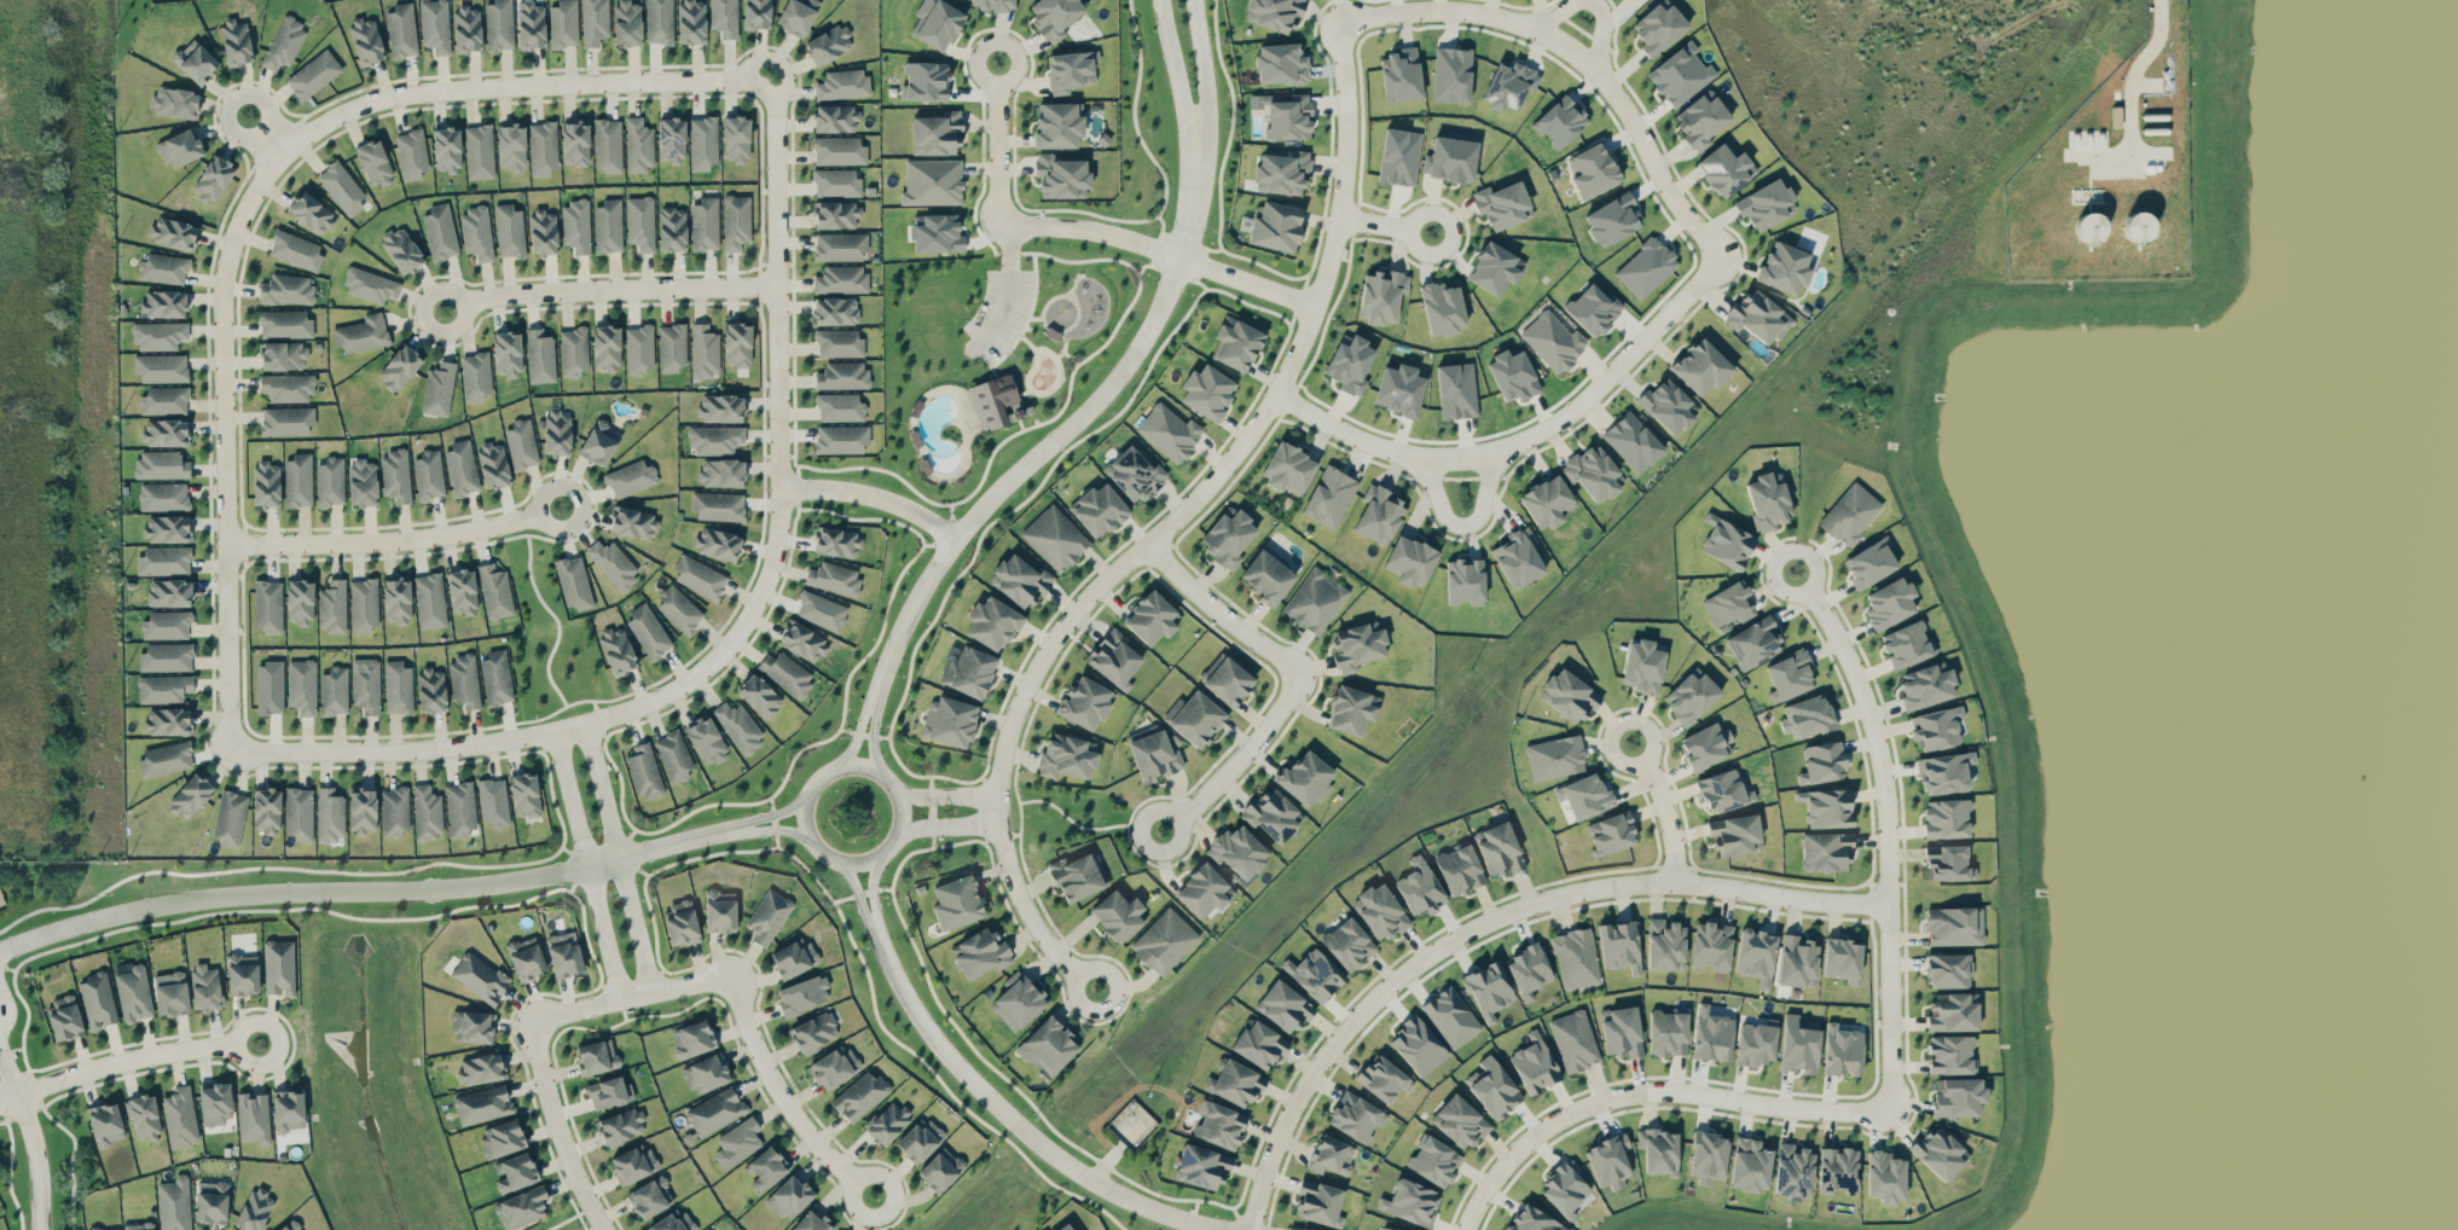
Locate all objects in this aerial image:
road: (1594, 2)
building: (995, 5)
building: (756, 13)
building: (1274, 13)
building: (798, 14)
building: (1054, 16)
building: (724, 17)
building: (659, 21)
building: (691, 21)
building: (593, 22)
building: (627, 22)
building: (563, 23)
building: (937, 23)
building: (499, 24)
building: (531, 24)
building: (435, 25)
building: (1658, 27)
building: (466, 28)
building: (401, 30)
building: (366, 39)
building: (236, 41)
building: (284, 42)
building: (828, 43)
road: (1578, 56)
building: (195, 62)
building: (1281, 63)
road: (1204, 64)
road: (1175, 65)
building: (1071, 70)
building: (313, 74)
building: (1451, 74)
building: (1680, 74)
building: (1399, 75)
building: (926, 80)
building: (842, 83)
building: (1508, 85)
road: (521, 86)
building: (175, 101)
building: (2115, 116)
building: (835, 117)
building: (1289, 117)
building: (1702, 118)
building: (1560, 122)
building: (1057, 124)
building: (937, 133)
road: (266, 134)
building: (671, 139)
building: (736, 139)
building: (575, 141)
building: (703, 141)
building: (608, 144)
building: (638, 144)
building: (511, 145)
building: (180, 147)
building: (543, 147)
building: (446, 149)
building: (839, 150)
building: (479, 151)
building: (411, 153)
building: (1398, 156)
building: (1453, 156)
building: (373, 163)
building: (1726, 168)
building: (1593, 169)
building: (1282, 172)
building: (1061, 176)
building: (213, 178)
building: (932, 181)
building: (836, 182)
building: (342, 186)
building: (1766, 203)
building: (1503, 204)
building: (311, 213)
building: (836, 214)
building: (1612, 219)
building: (735, 220)
building: (640, 222)
building: (705, 224)
building: (575, 225)
road: (1386, 225)
building: (608, 226)
building: (1276, 226)
building: (2138, 226)
building: (2089, 227)
building: (672, 228)
road: (1082, 230)
building: (440, 231)
building: (509, 231)
building: (543, 231)
building: (173, 232)
building: (476, 232)
building: (937, 233)
building: (840, 246)
building: (295, 249)
building: (401, 249)
building: (1645, 267)
building: (1785, 267)
building: (162, 268)
building: (1495, 268)
building: (841, 279)
building: (370, 284)
building: (286, 289)
road: (609, 290)
road: (1008, 290)
building: (1381, 295)
building: (163, 303)
building: (1442, 308)
building: (1593, 308)
building: (835, 311)
building: (1758, 317)
building: (284, 324)
building: (361, 333)
building: (158, 335)
building: (1553, 341)
building: (839, 342)
building: (1236, 343)
building: (737, 344)
building: (607, 347)
building: (672, 347)
building: (639, 349)
building: (574, 350)
building: (705, 350)
building: (506, 353)
road: (777, 353)
building: (283, 355)
building: (540, 356)
building: (1350, 362)
building: (1702, 366)
building: (161, 367)
building: (399, 367)
building: (842, 375)
building: (1512, 375)
building: (475, 376)
building: (288, 387)
road: (224, 389)
building: (439, 389)
building: (1401, 389)
building: (1456, 390)
building: (1207, 391)
building: (164, 400)
building: (1669, 405)
building: (839, 406)
building: (719, 407)
building: (286, 419)
road: (1078, 420)
building: (164, 431)
building: (1169, 431)
building: (557, 433)
road: (1530, 437)
building: (715, 439)
building: (841, 439)
building: (1633, 441)
building: (598, 442)
building: (521, 443)
building: (161, 464)
building: (493, 464)
building: (462, 466)
building: (1289, 468)
building: (720, 471)
building: (1593, 472)
building: (1134, 474)
building: (395, 475)
building: (428, 475)
building: (630, 477)
building: (297, 480)
building: (330, 481)
building: (363, 481)
building: (266, 483)
building: (163, 495)
road: (871, 495)
building: (1329, 495)
building: (1768, 499)
building: (1547, 501)
building: (718, 505)
building: (1098, 509)
building: (1850, 514)
building: (1379, 515)
building: (633, 522)
road: (1463, 524)
road: (1169, 526)
building: (167, 528)
building: (1055, 536)
building: (1228, 536)
road: (395, 540)
building: (837, 541)
building: (1726, 541)
building: (717, 543)
building: (1519, 557)
building: (163, 559)
building: (1410, 559)
building: (613, 562)
building: (1869, 562)
building: (1268, 574)
building: (698, 576)
building: (833, 578)
building: (1019, 580)
building: (1465, 580)
building: (573, 582)
building: (462, 591)
building: (495, 591)
building: (169, 592)
building: (396, 599)
building: (1315, 599)
building: (430, 601)
building: (300, 602)
building: (1889, 603)
building: (364, 604)
building: (1729, 604)
building: (268, 605)
building: (332, 605)
building: (679, 609)
building: (821, 609)
road: (1221, 613)
building: (1152, 617)
building: (992, 622)
building: (166, 625)
building: (648, 629)
building: (802, 640)
building: (1753, 643)
building: (1357, 644)
building: (1907, 644)
building: (618, 649)
building: (166, 656)
building: (1114, 658)
building: (1642, 666)
building: (785, 672)
building: (969, 672)
building: (1789, 674)
building: (497, 677)
building: (464, 680)
building: (1228, 681)
building: (366, 684)
building: (302, 685)
building: (1926, 685)
building: (269, 686)
building: (398, 686)
building: (163, 687)
building: (431, 689)
building: (334, 690)
building: (759, 695)
building: (1569, 695)
building: (1691, 695)
road: (228, 696)
building: (1085, 702)
building: (1352, 709)
building: (1807, 715)
road: (864, 719)
building: (1196, 719)
building: (167, 720)
building: (950, 721)
road: (875, 723)
building: (738, 725)
building: (1938, 726)
road: (504, 737)
building: (705, 739)
building: (1706, 745)
building: (673, 755)
building: (1067, 755)
building: (1154, 755)
building: (1554, 756)
building: (166, 758)
road: (1240, 759)
building: (1821, 762)
building: (644, 770)
building: (1946, 772)
building: (1305, 778)
building: (1723, 790)
building: (524, 795)
road: (946, 795)
building: (1584, 795)
building: (190, 796)
building: (493, 801)
building: (1826, 806)
building: (460, 808)
road: (1666, 808)
building: (267, 810)
building: (363, 811)
building: (394, 811)
building: (298, 813)
building: (427, 813)
building: (1273, 813)
building: (330, 814)
road: (766, 814)
building: (230, 817)
building: (1946, 818)
road: (949, 824)
road: (765, 828)
road: (1889, 831)
building: (1610, 832)
building: (1735, 835)
building: (1498, 848)
road: (819, 851)
building: (1239, 851)
building: (1825, 851)
road: (619, 855)
road: (587, 863)
building: (1948, 863)
building: (1459, 869)
building: (1079, 875)
building: (1420, 887)
road: (358, 888)
building: (1204, 890)
building: (957, 901)
road: (875, 907)
road: (864, 909)
building: (720, 911)
building: (1380, 911)
building: (1118, 913)
building: (767, 916)
road: (1490, 921)
building: (682, 922)
building: (1954, 926)
building: (1164, 941)
building: (1347, 944)
building: (1619, 945)
building: (1665, 945)
building: (1711, 945)
building: (981, 952)
building: (564, 953)
building: (1756, 955)
building: (526, 957)
building: (794, 957)
building: (1576, 958)
building: (1842, 959)
building: (1797, 962)
building: (278, 967)
building: (1529, 970)
building: (1948, 970)
building: (242, 973)
building: (1314, 974)
building: (479, 976)
building: (204, 986)
building: (1489, 990)
building: (133, 992)
building: (170, 992)
building: (802, 994)
road: (630, 996)
building: (97, 999)
building: (1018, 1000)
building: (1283, 1006)
road: (6, 1008)
building: (1953, 1011)
building: (1450, 1016)
building: (63, 1017)
building: (473, 1026)
building: (814, 1032)
building: (1621, 1032)
building: (1668, 1032)
building: (1711, 1034)
building: (692, 1038)
building: (1575, 1040)
building: (1755, 1042)
building: (1259, 1044)
building: (1799, 1044)
building: (1418, 1045)
building: (1048, 1046)
building: (1842, 1050)
building: (1950, 1054)
building: (596, 1056)
road: (124, 1060)
building: (1534, 1063)
building: (833, 1066)
building: (480, 1067)
building: (706, 1073)
building: (1382, 1078)
building: (1237, 1083)
building: (1494, 1087)
building: (609, 1091)
road: (1651, 1091)
road: (782, 1096)
building: (859, 1096)
building: (1959, 1096)
building: (215, 1102)
building: (482, 1104)
building: (288, 1109)
building: (714, 1110)
building: (144, 1116)
building: (180, 1116)
building: (1356, 1116)
building: (253, 1118)
building: (887, 1121)
building: (1459, 1121)
building: (105, 1122)
building: (1219, 1124)
building: (620, 1126)
road: (558, 1127)
road: (1028, 1132)
building: (502, 1137)
road: (31, 1138)
building: (918, 1139)
building: (737, 1142)
building: (1658, 1150)
building: (1940, 1151)
building: (1331, 1154)
building: (1708, 1156)
building: (1608, 1160)
building: (1434, 1161)
building: (632, 1162)
building: (1750, 1165)
building: (1201, 1166)
building: (765, 1167)
building: (940, 1168)
building: (1838, 1170)
building: (1793, 1171)
building: (514, 1172)
building: (1885, 1177)
building: (1565, 1188)
building: (789, 1195)
building: (650, 1196)
building: (211, 1201)
building: (1318, 1202)
building: (1410, 1202)
building: (174, 1203)
building: (521, 1207)
building: (255, 1209)
building: (813, 1220)
building: (1534, 1220)
building: (672, 1222)
building: (139, 1225)
building: (289, 1225)
building: (1062, 1226)
building: (1390, 1228)
building: (115, 1229)
building: (708, 1229)
building: (1299, 1229)

